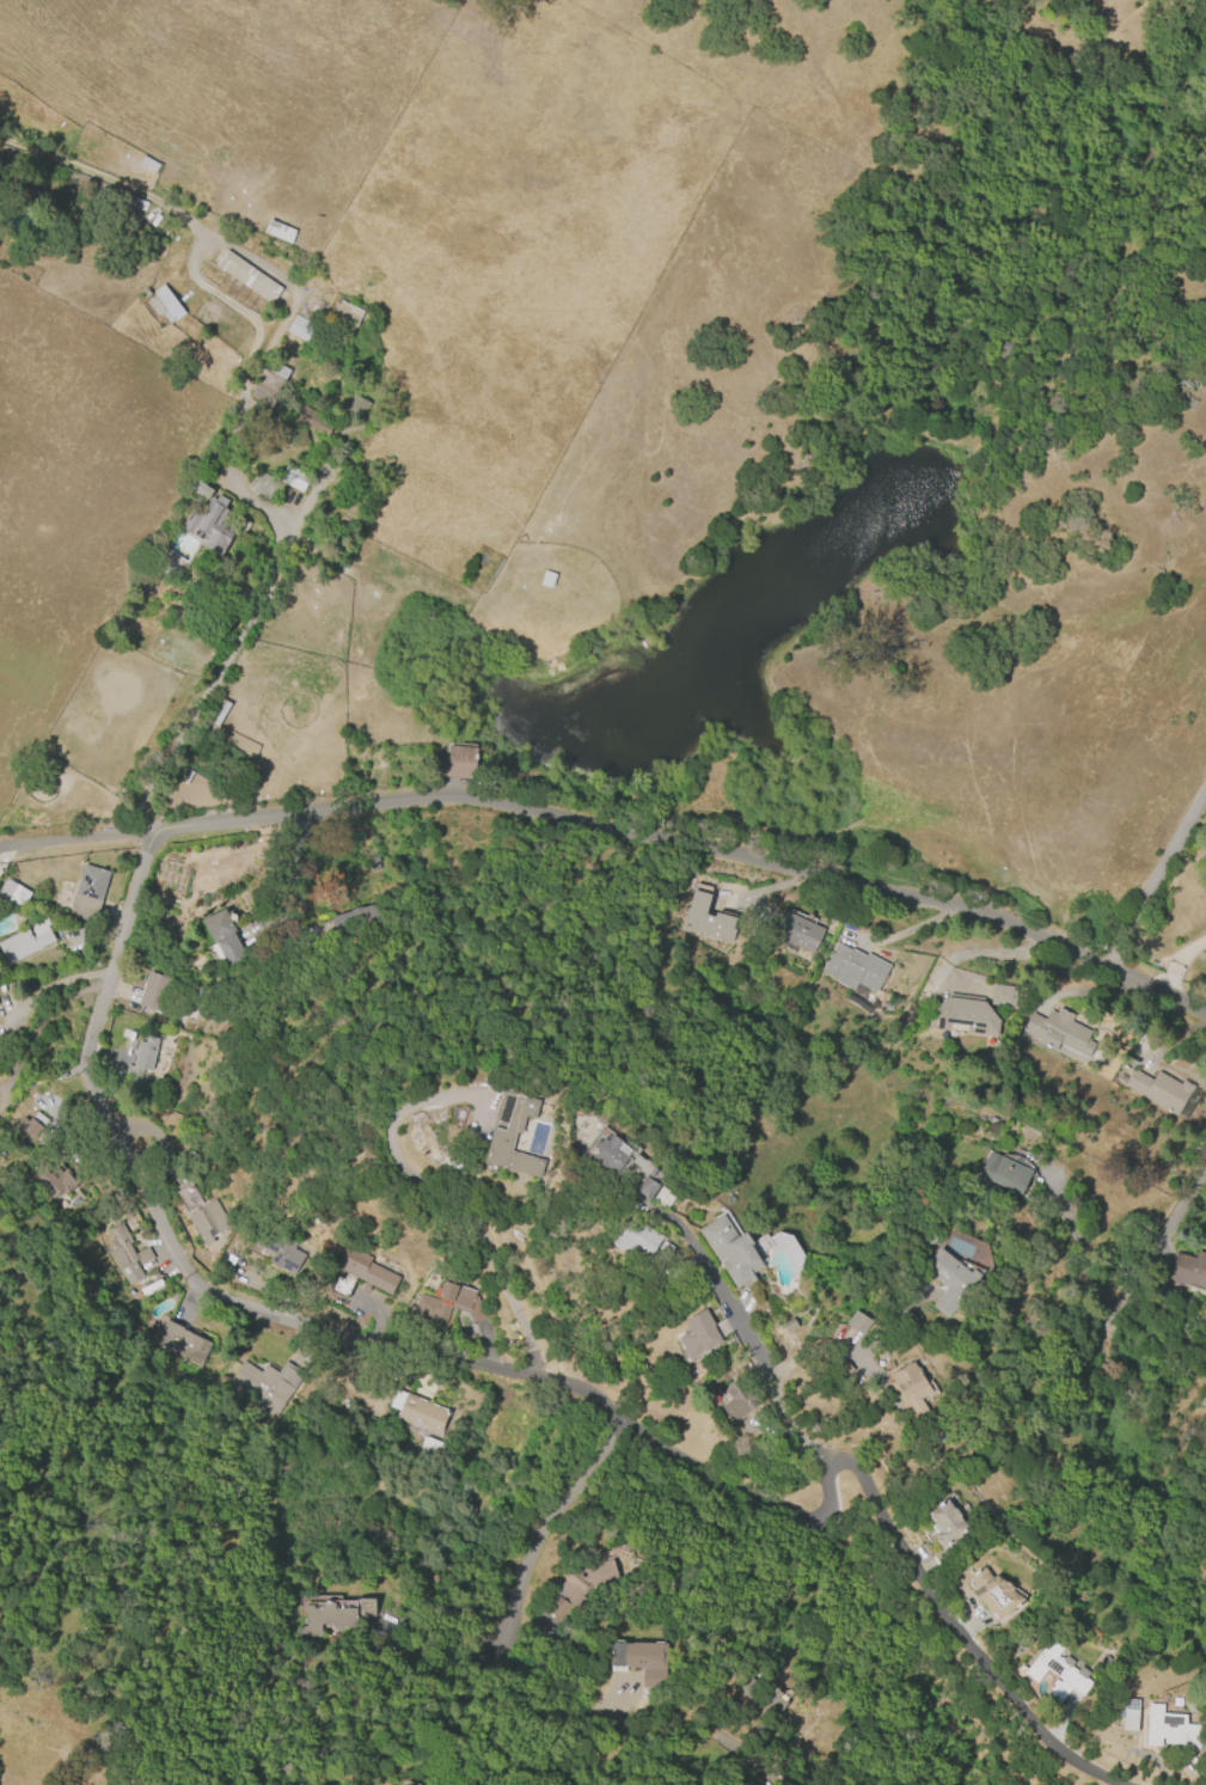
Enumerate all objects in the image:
building: (148, 165)
building: (278, 231)
building: (247, 277)
building: (143, 293)
building: (164, 305)
building: (345, 313)
building: (300, 329)
building: (268, 381)
building: (355, 409)
building: (311, 422)
road: (229, 447)
building: (293, 478)
building: (263, 485)
building: (197, 488)
building: (208, 525)
building: (218, 711)
building: (458, 763)
building: (182, 774)
road: (613, 832)
road: (1161, 872)
building: (13, 893)
building: (87, 893)
building: (706, 919)
building: (347, 923)
building: (798, 934)
building: (224, 937)
building: (26, 941)
road: (1184, 961)
building: (853, 968)
building: (154, 992)
building: (1002, 996)
building: (962, 1015)
building: (1058, 1032)
building: (141, 1057)
building: (1159, 1090)
building: (25, 1129)
building: (510, 1135)
building: (608, 1154)
building: (1004, 1173)
building: (55, 1181)
building: (645, 1187)
building: (661, 1198)
road: (451, 1202)
building: (208, 1221)
building: (635, 1236)
road: (1165, 1240)
building: (281, 1247)
building: (731, 1252)
building: (128, 1257)
road: (1085, 1264)
building: (1190, 1270)
building: (366, 1272)
building: (949, 1280)
building: (447, 1303)
building: (857, 1322)
building: (789, 1325)
building: (698, 1334)
building: (180, 1343)
road: (807, 1353)
road: (740, 1355)
road: (537, 1370)
building: (263, 1384)
building: (910, 1388)
building: (739, 1399)
building: (417, 1413)
building: (944, 1523)
road: (540, 1524)
building: (576, 1588)
building: (993, 1594)
building: (332, 1613)
road: (431, 1642)
building: (641, 1661)
building: (1058, 1671)
road: (533, 1707)
building: (1169, 1729)
road: (760, 1773)
building: (403, 1783)

